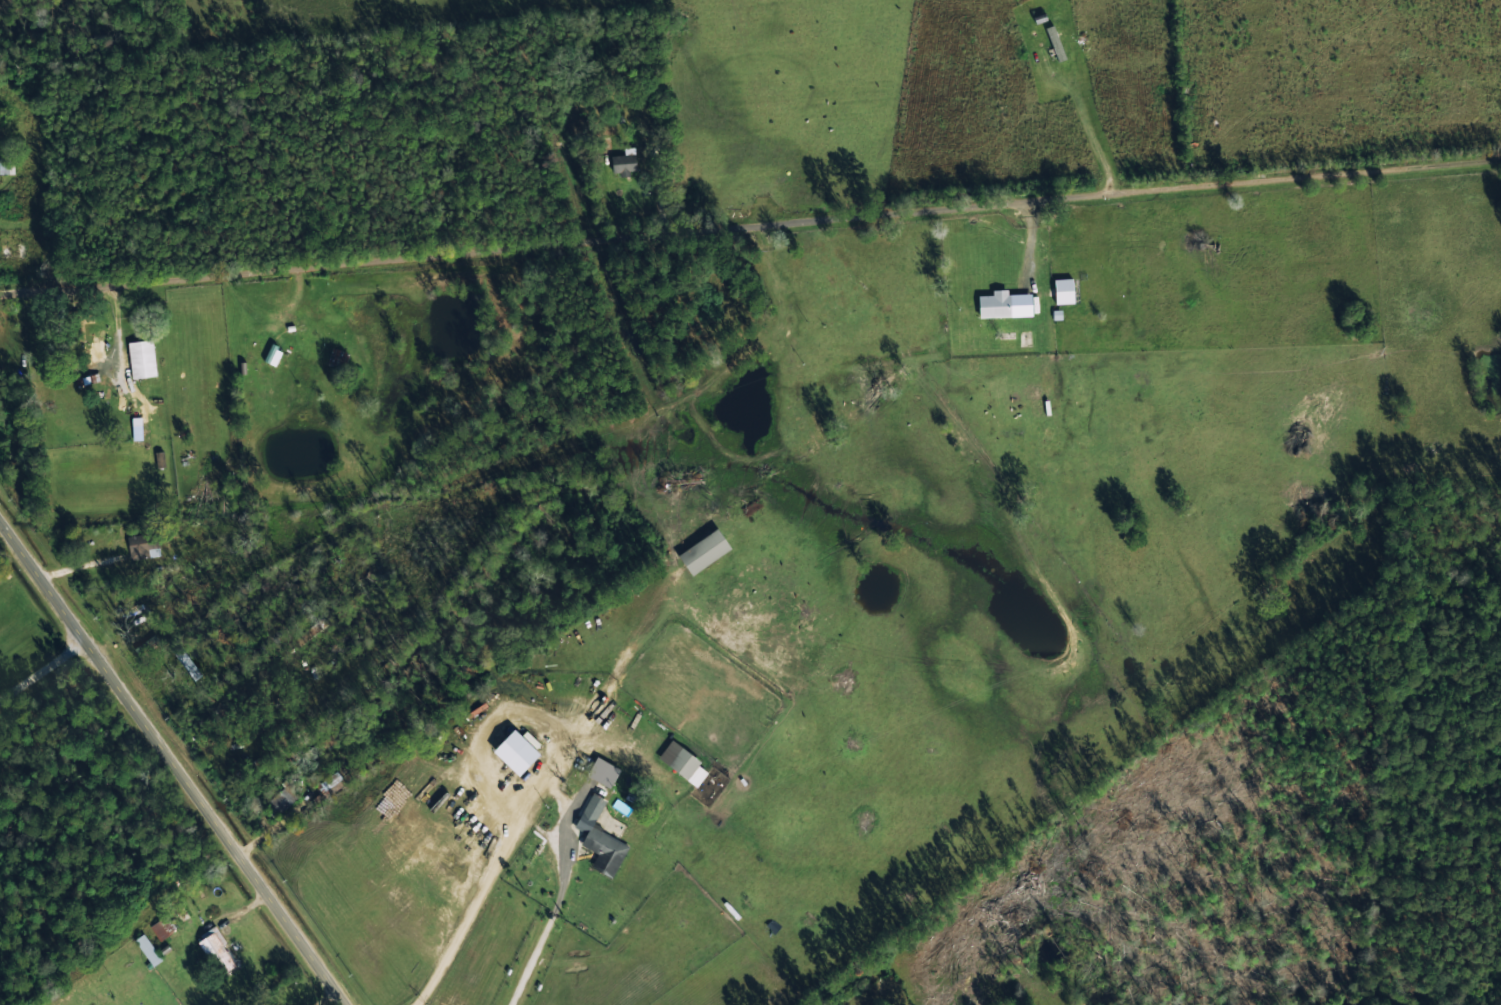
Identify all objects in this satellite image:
building: (1055, 42)
building: (624, 161)
road: (1448, 167)
road: (697, 232)
building: (1063, 290)
building: (995, 303)
building: (338, 356)
building: (142, 358)
building: (143, 544)
building: (704, 550)
building: (518, 750)
building: (682, 761)
road: (172, 762)
building: (603, 770)
building: (600, 837)
road: (523, 913)
building: (164, 929)
building: (147, 948)
building: (218, 949)

